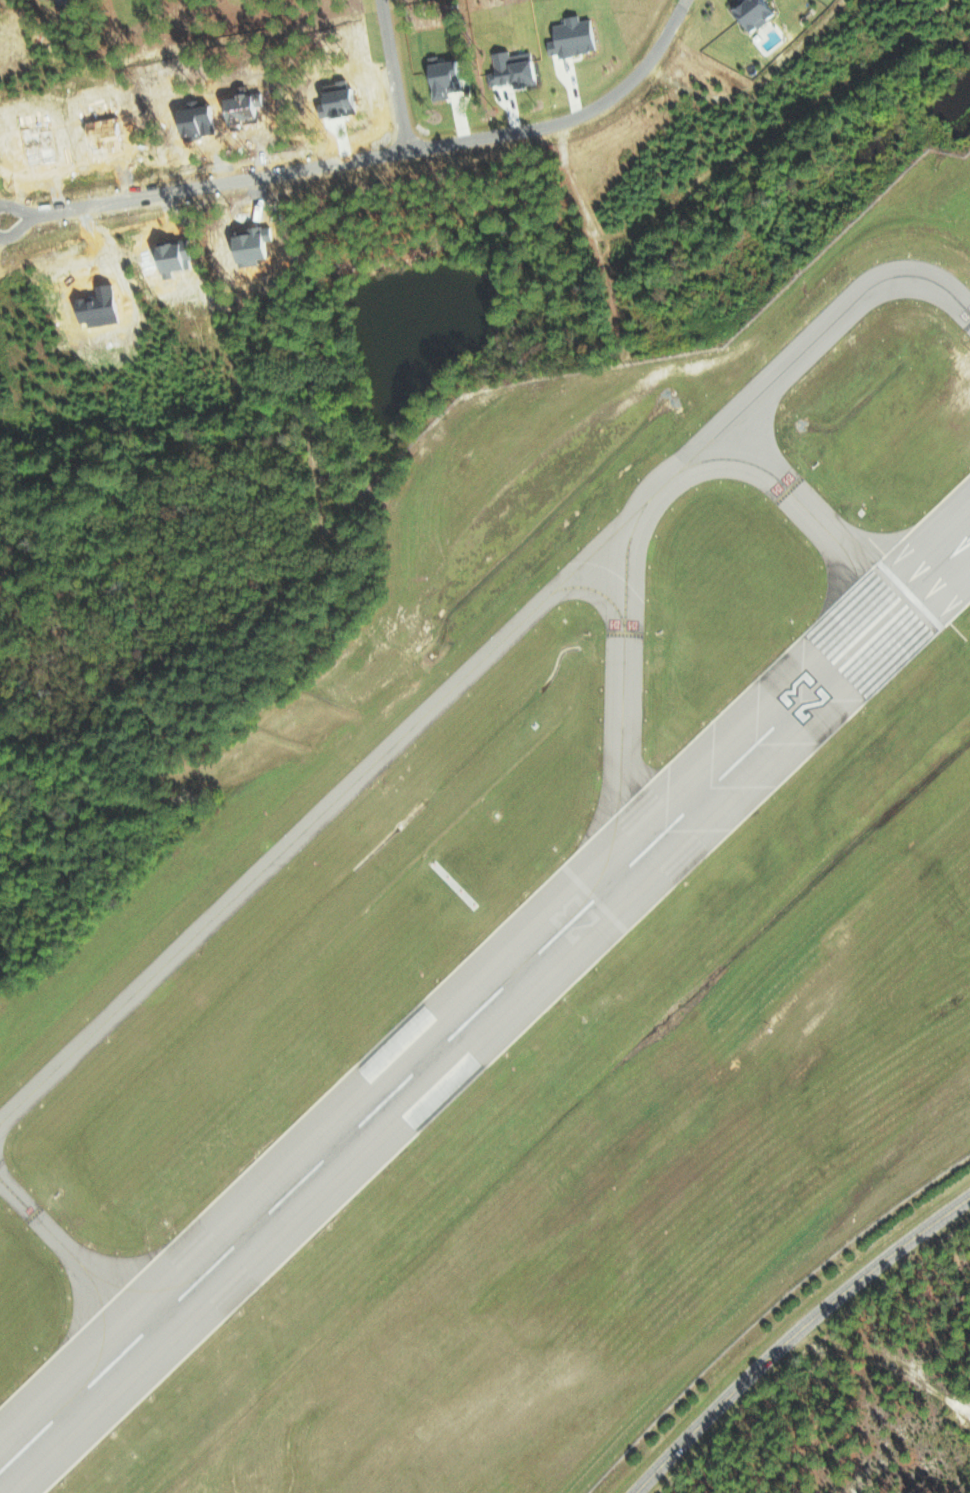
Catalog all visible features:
building: (749, 13)
road: (391, 74)
building: (438, 78)
road: (384, 152)
road: (26, 220)
airport taxiway: (814, 340)
airport taxiway: (798, 500)
airport taxiway: (936, 568)
airport taxiway: (597, 590)
airport taxiway: (622, 682)
building: (807, 702)
airport taxiway: (333, 801)
airport: (537, 956)
airport runway: (451, 1035)
airport taxiway: (0, 1121)
airport taxiway: (0, 1179)
airport taxiway: (79, 1261)
airport taxiway: (138, 1283)
road: (795, 1335)

